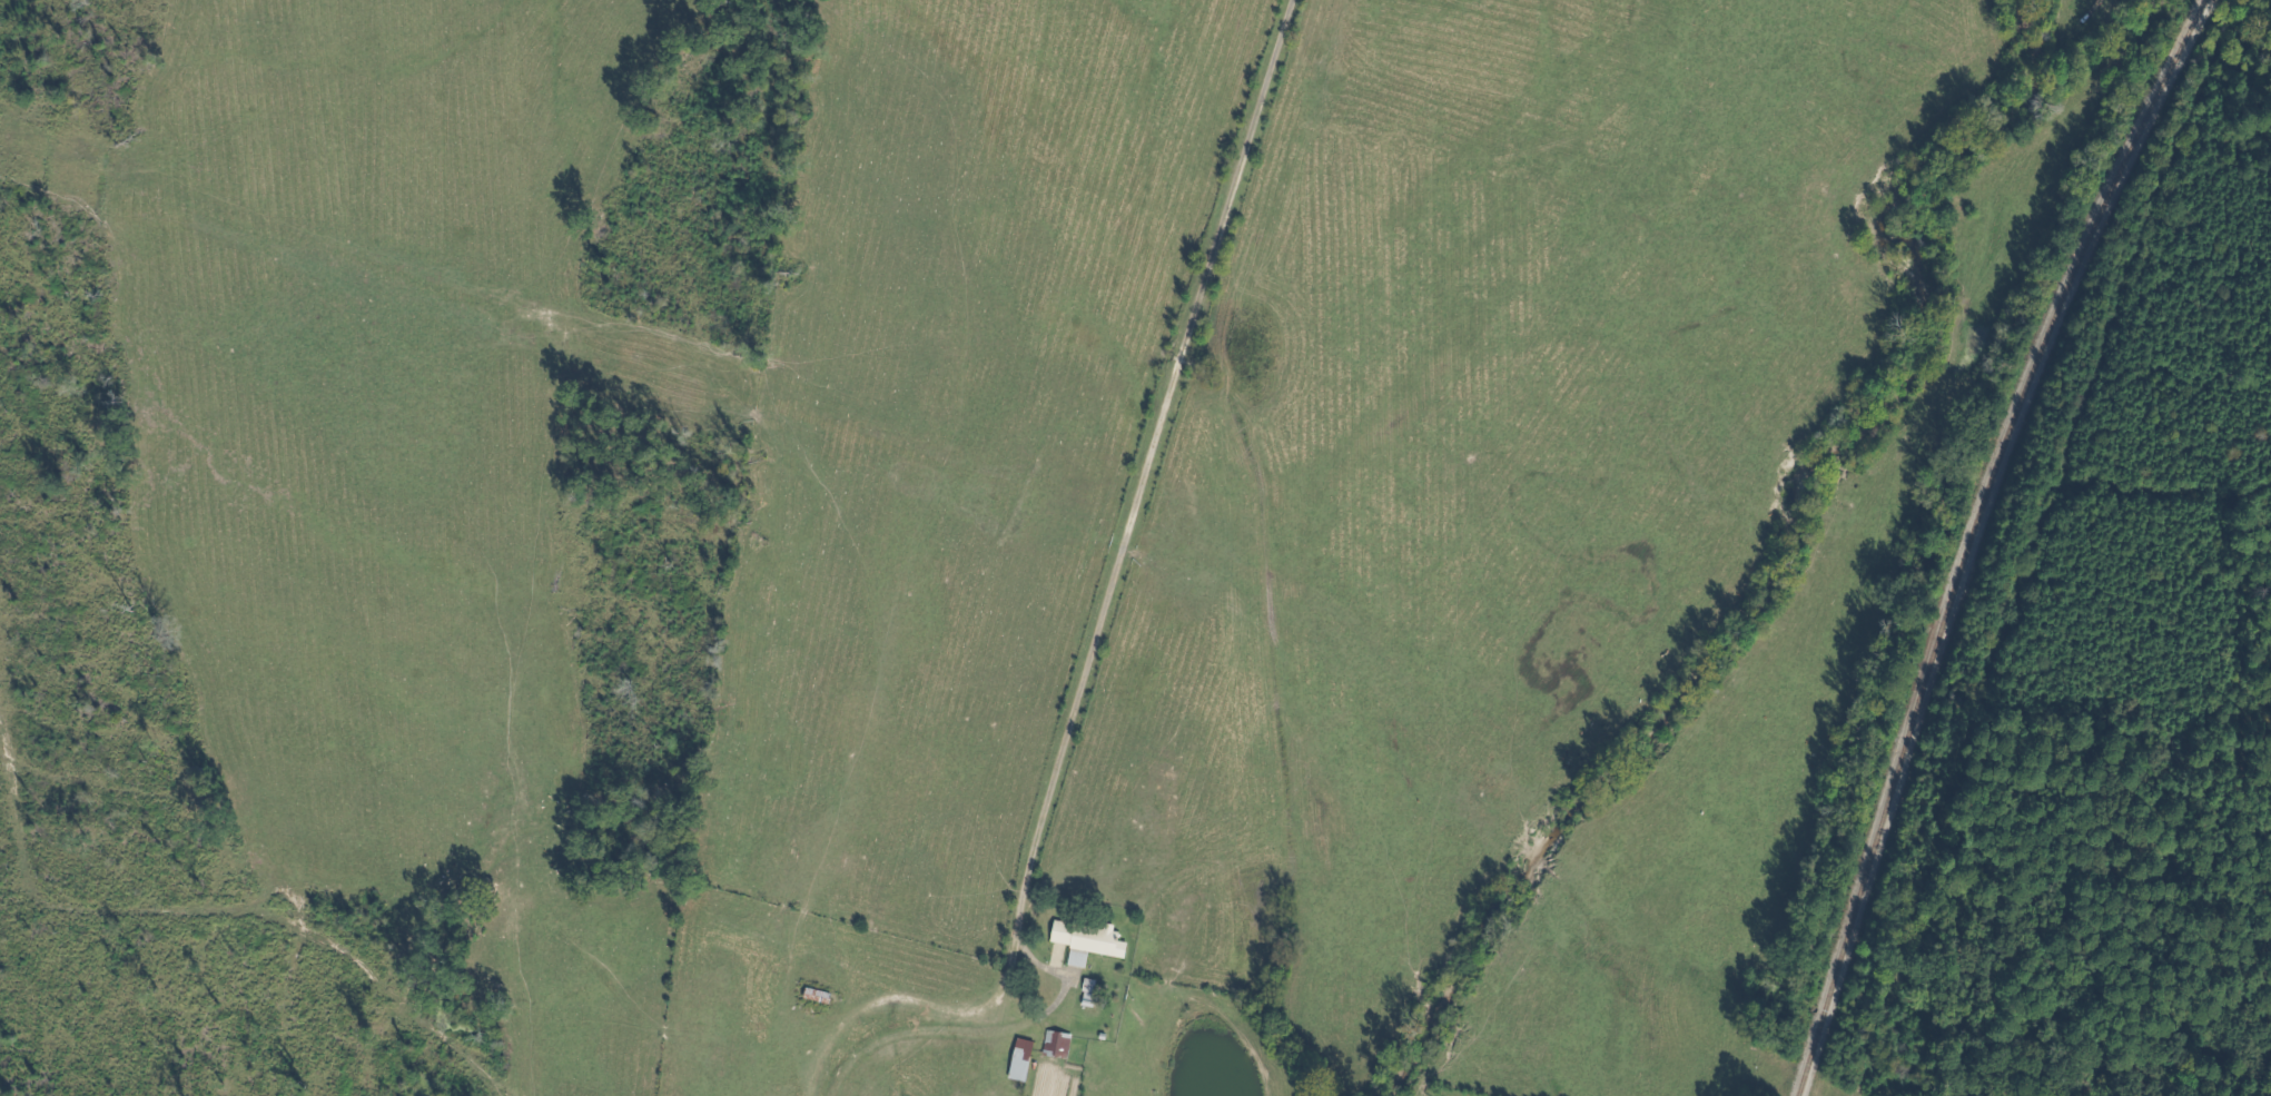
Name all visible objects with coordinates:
railway: (1967, 536)
road: (1095, 595)
building: (1083, 939)
building: (814, 994)
building: (1054, 1043)
building: (1017, 1058)

